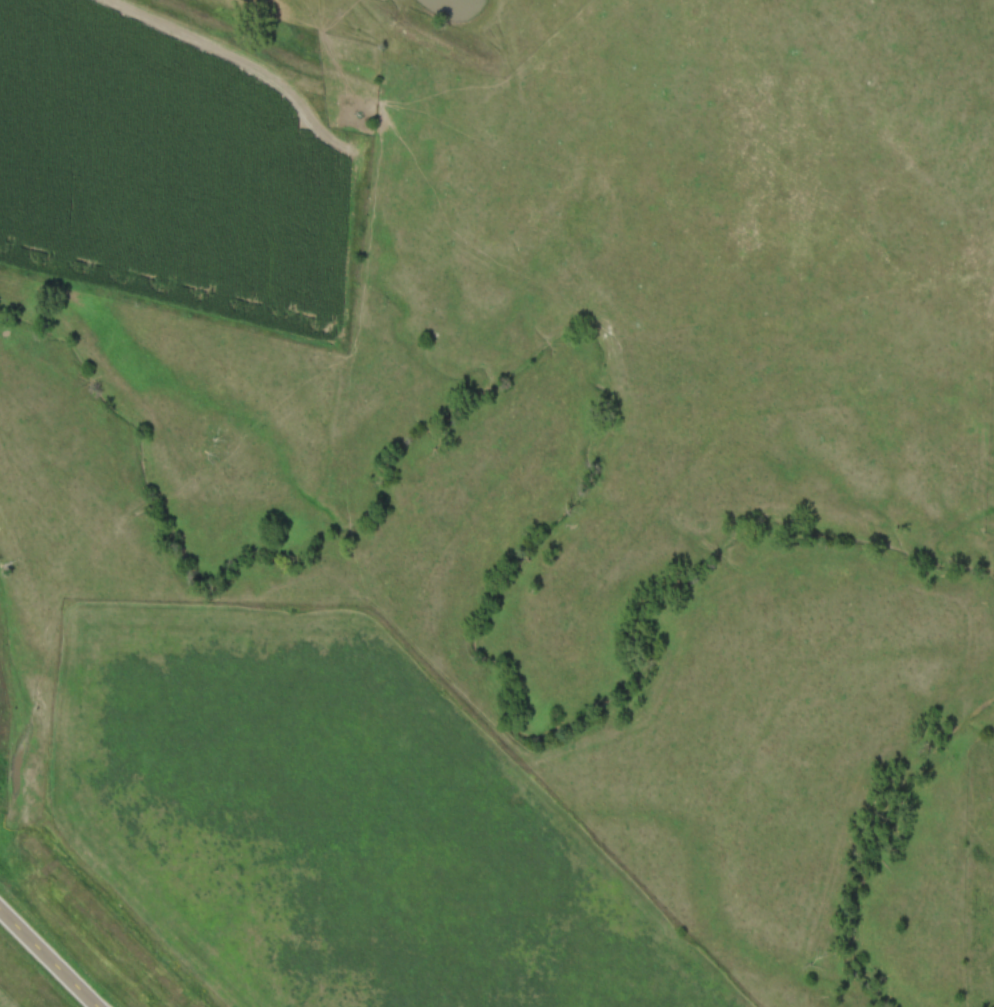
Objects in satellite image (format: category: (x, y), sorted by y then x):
road: (49, 958)

